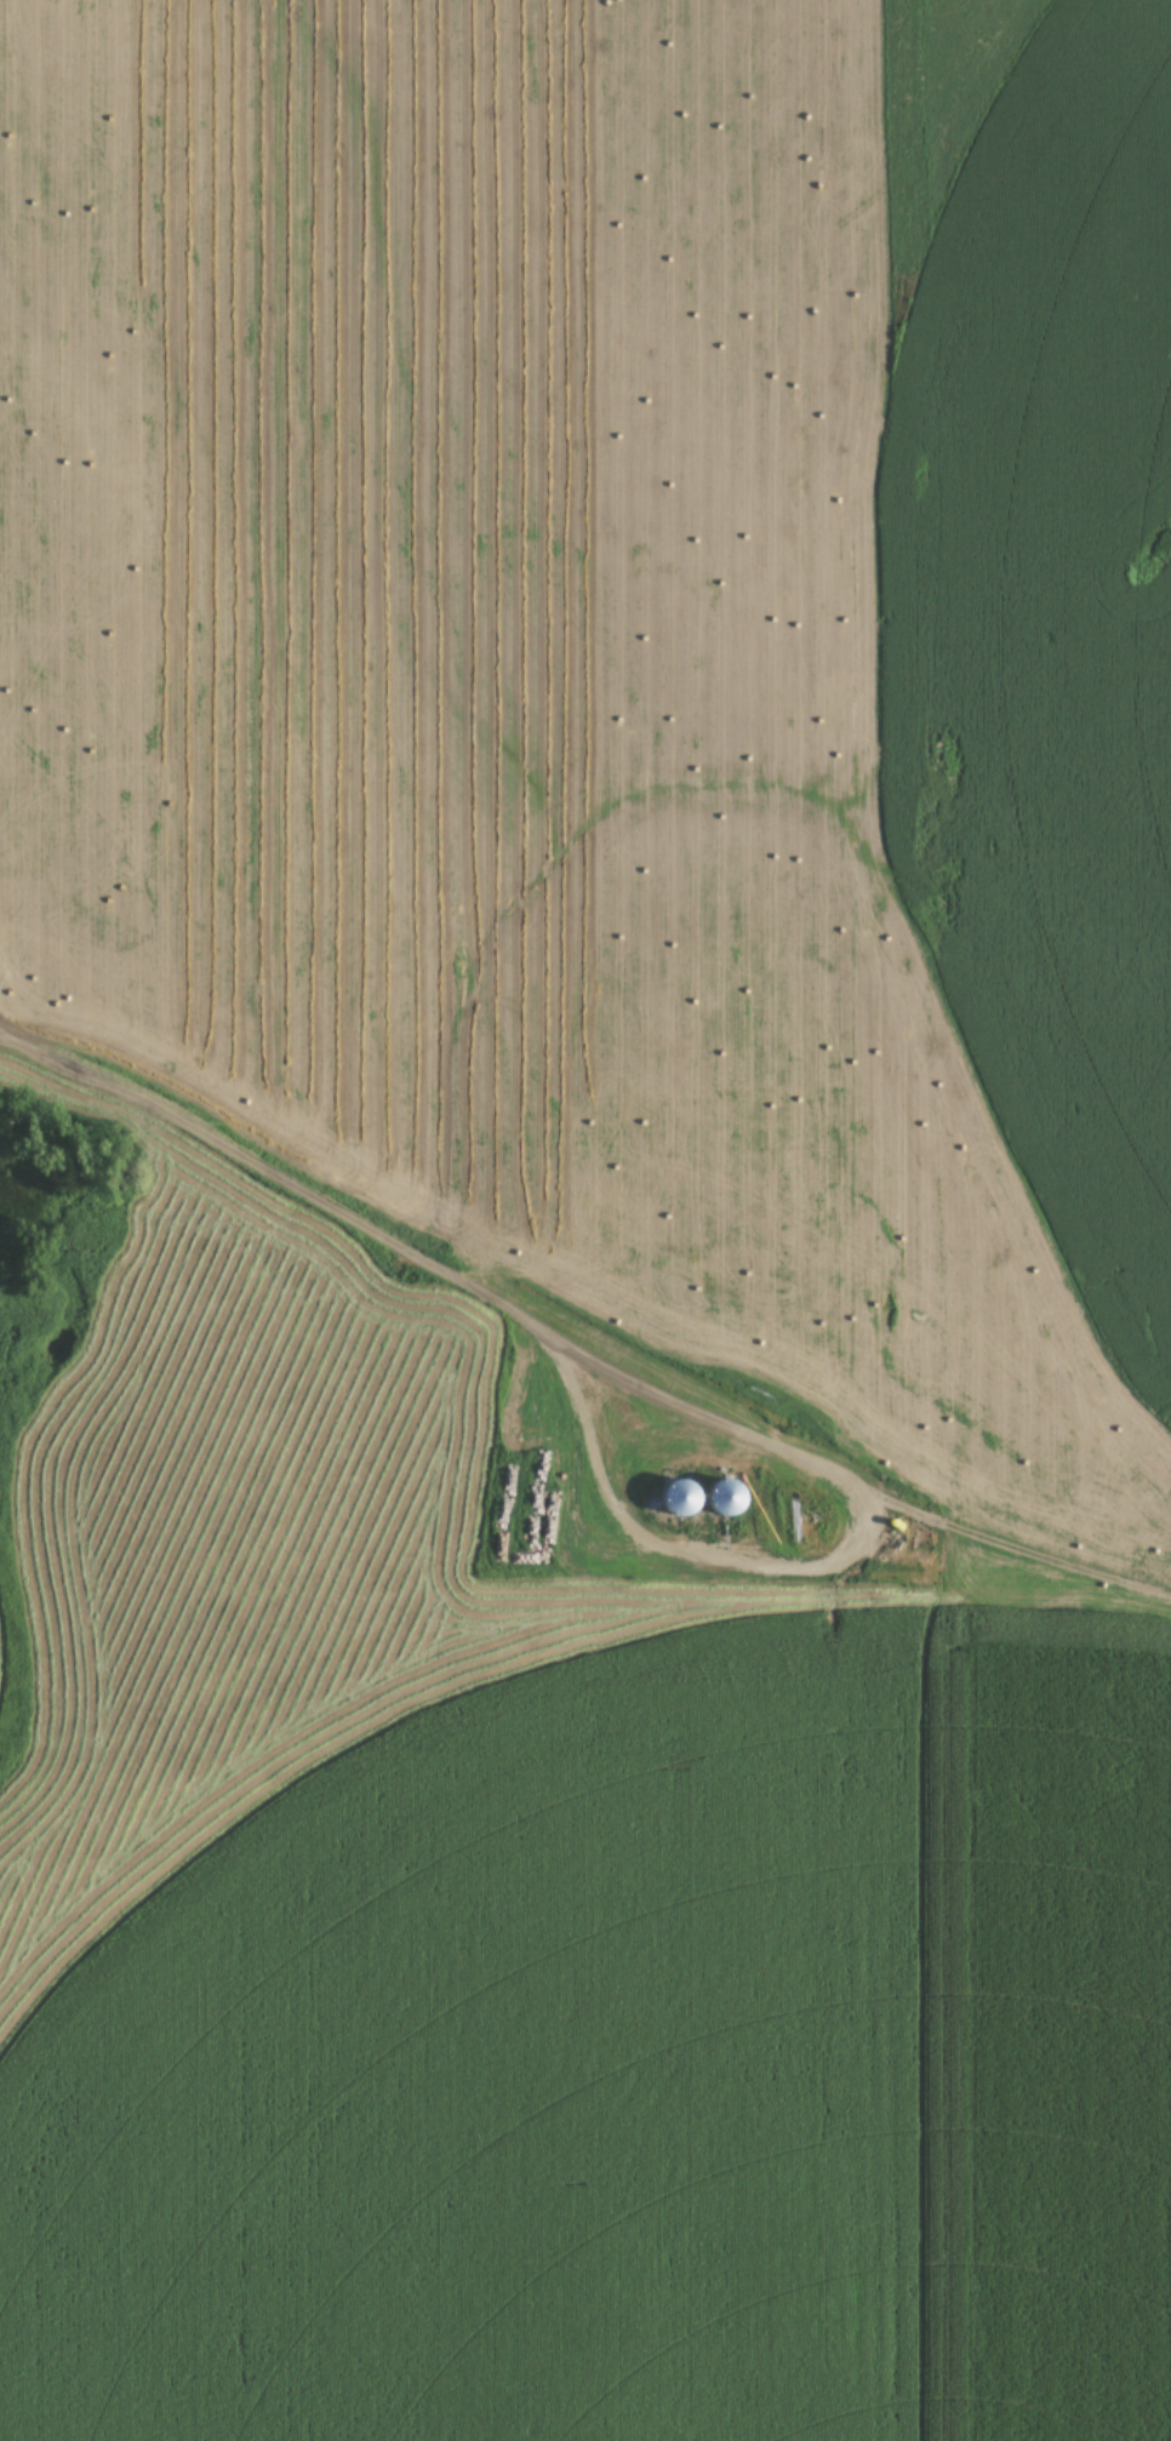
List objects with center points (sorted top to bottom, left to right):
building: (674, 1498)
building: (720, 1498)

